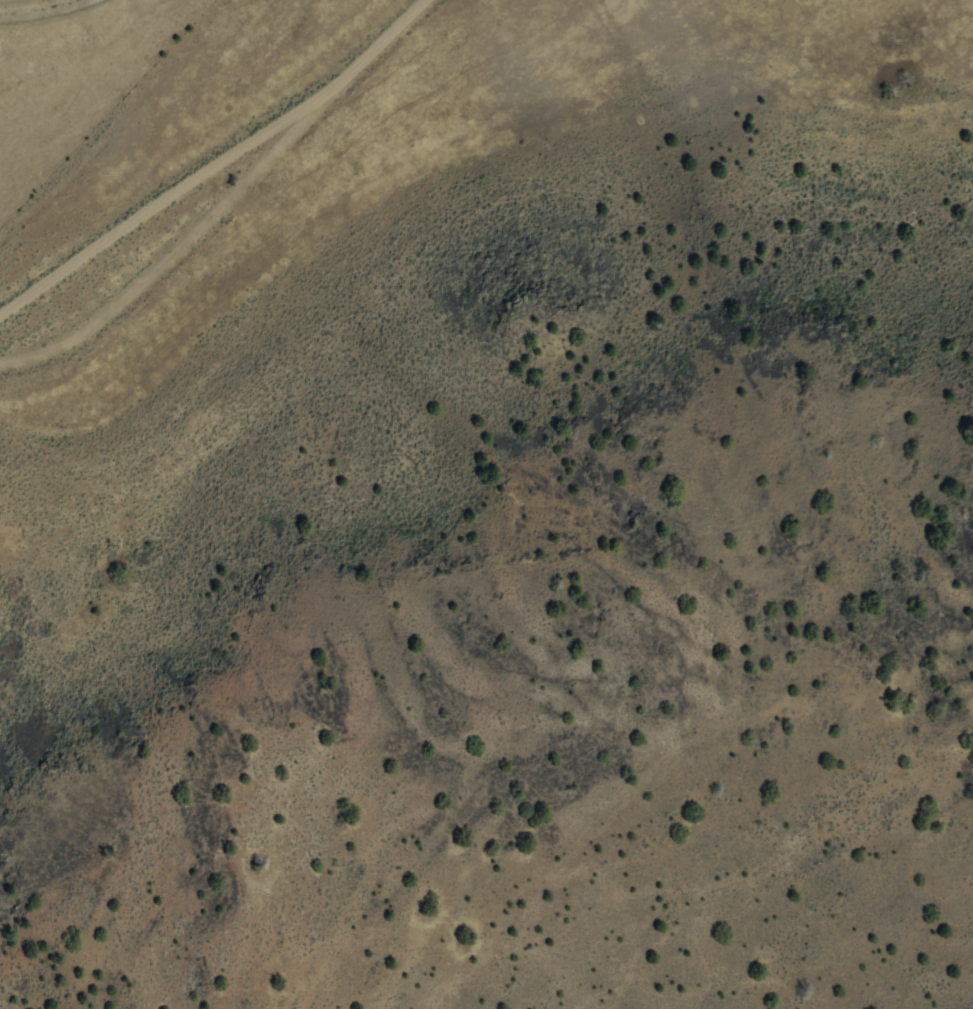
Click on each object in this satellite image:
road: (217, 162)

